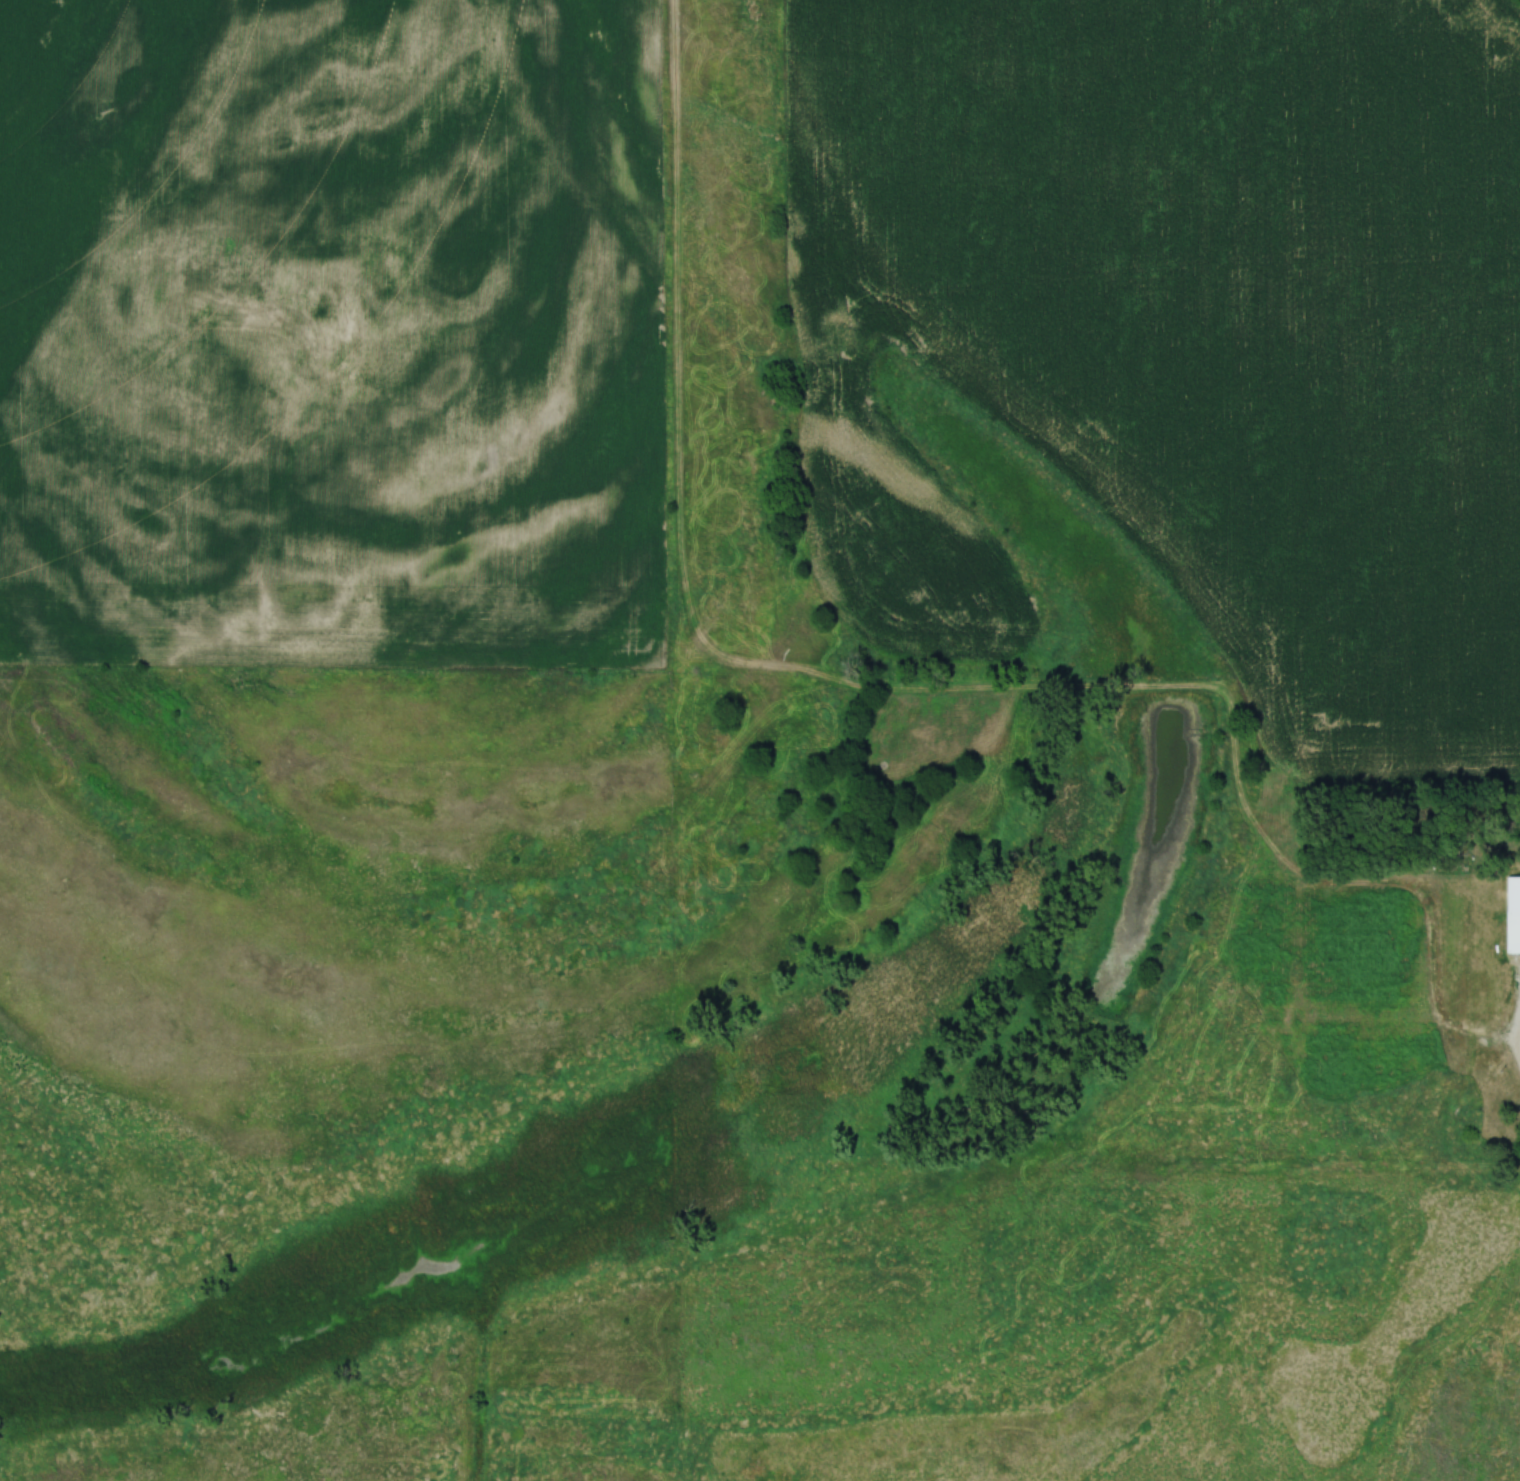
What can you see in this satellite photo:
building: (1514, 930)

